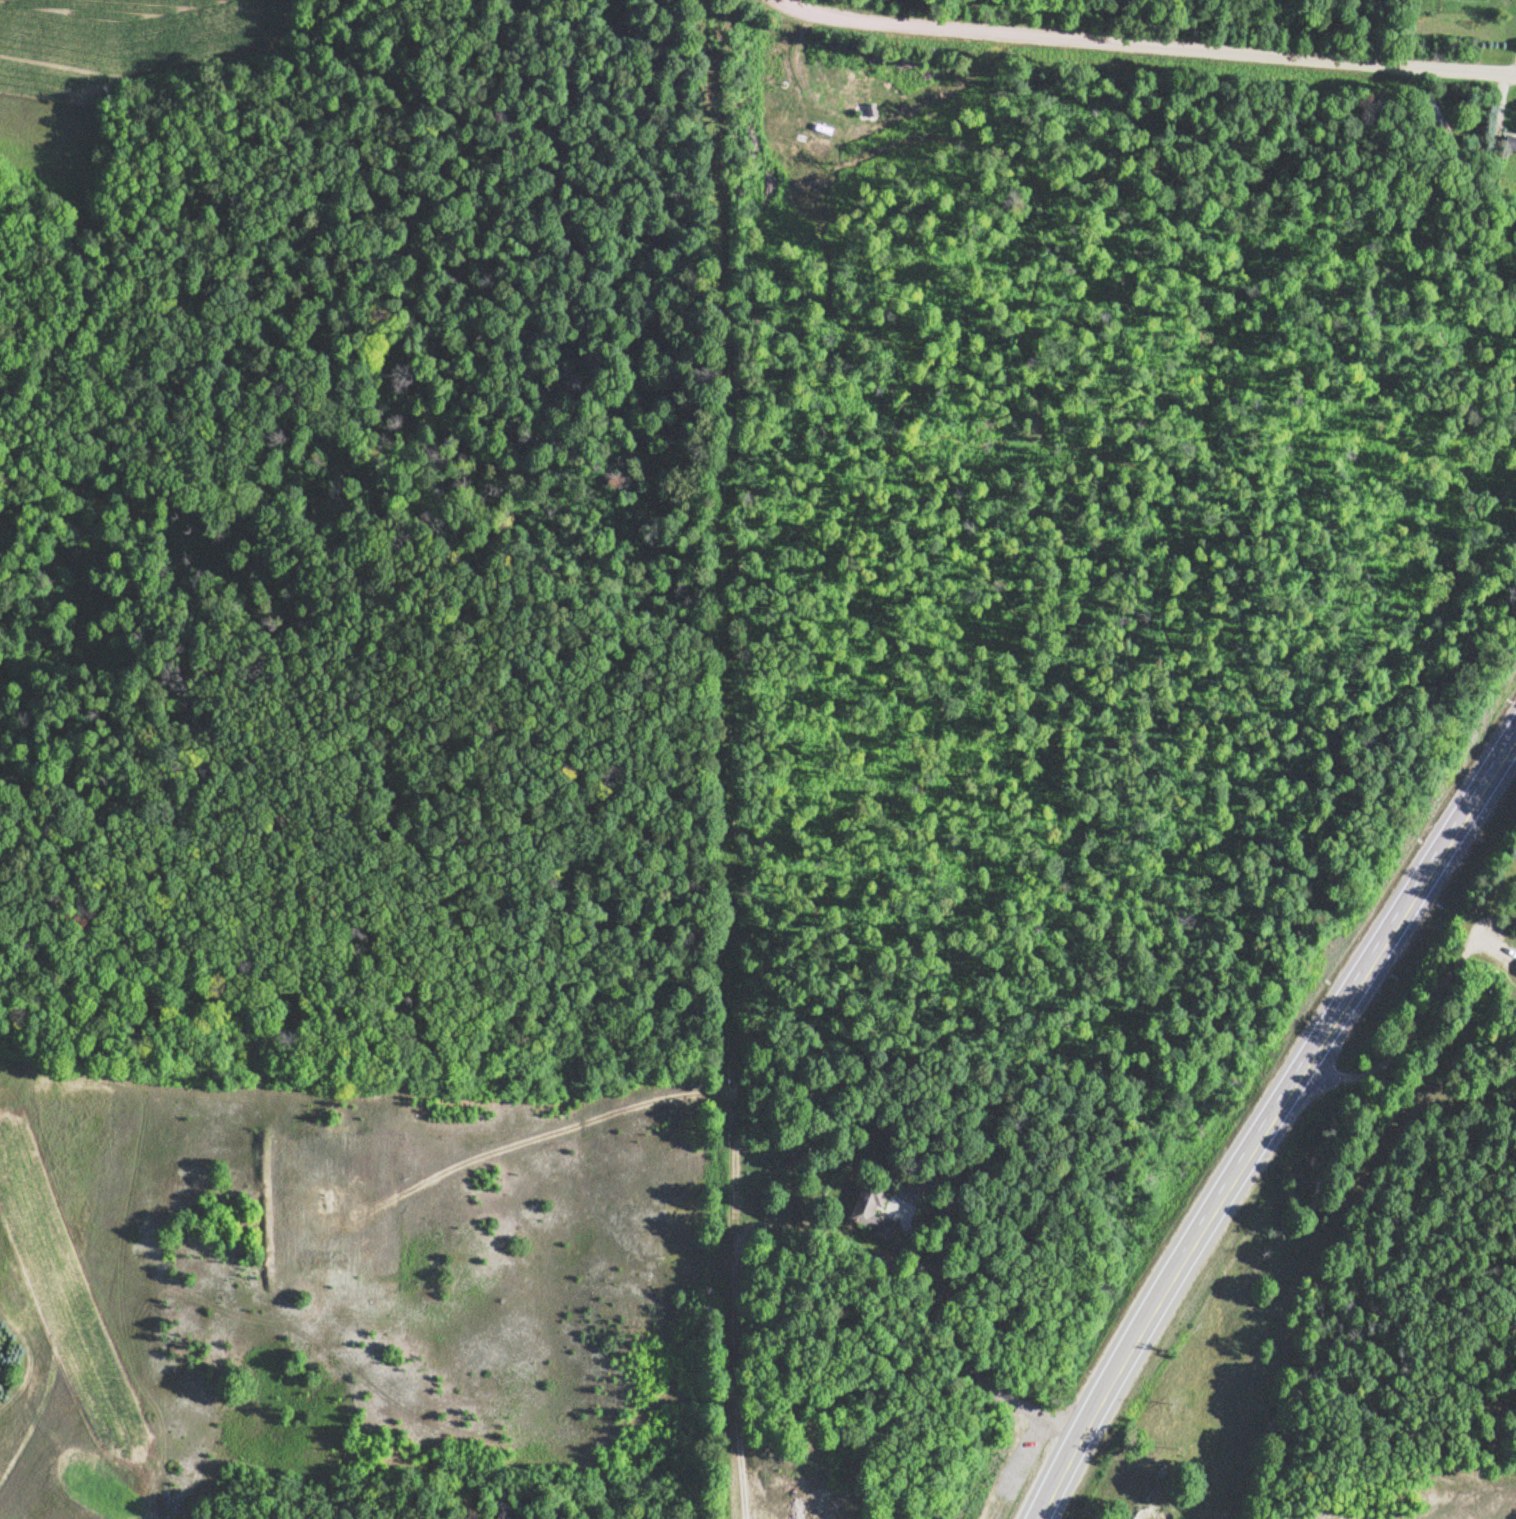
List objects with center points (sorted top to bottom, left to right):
road: (1152, 42)
building: (1509, 141)
road: (719, 757)
road: (1267, 1115)
building: (871, 1209)
building: (1020, 1455)

